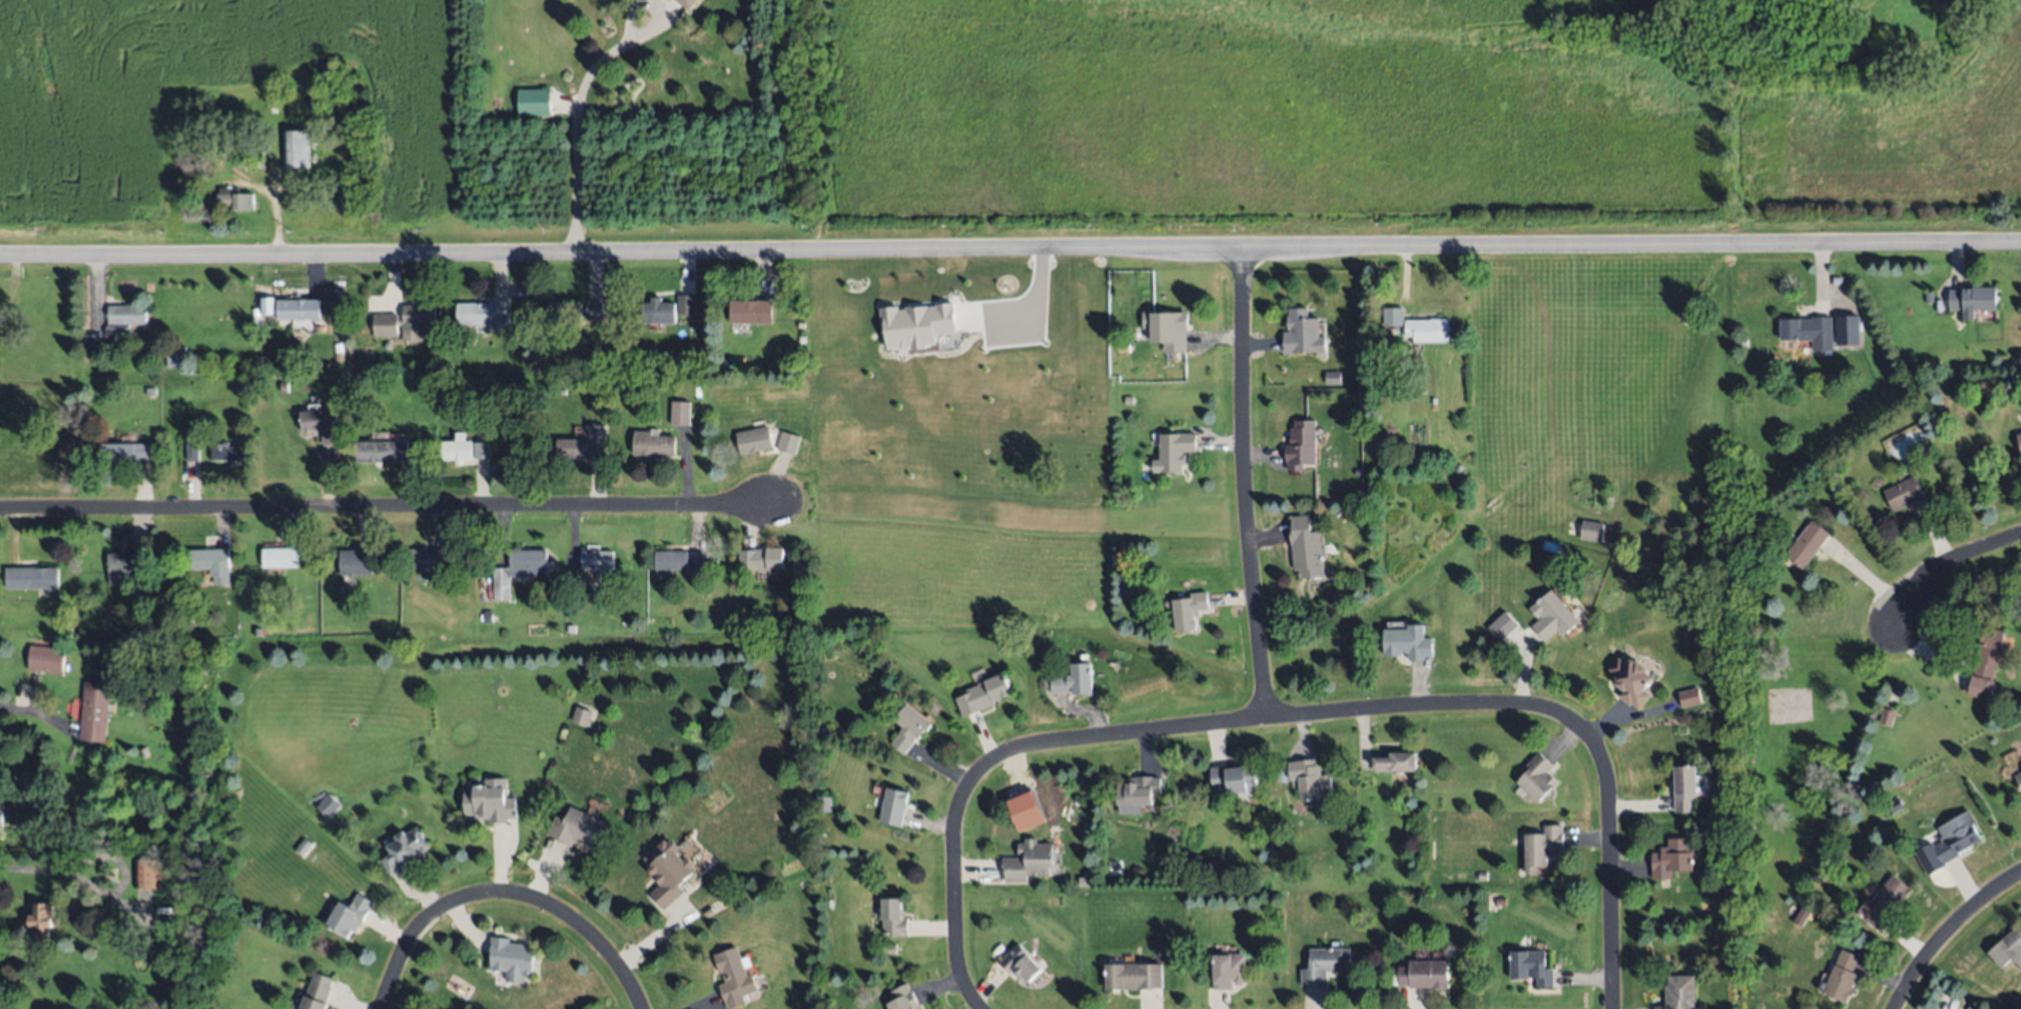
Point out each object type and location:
building: (686, 3)
building: (537, 100)
road: (577, 129)
building: (296, 147)
building: (252, 159)
building: (236, 199)
road: (1010, 249)
building: (1928, 295)
building: (1971, 297)
building: (686, 303)
building: (267, 306)
building: (297, 307)
building: (593, 309)
building: (658, 309)
road: (1034, 309)
building: (750, 311)
building: (564, 312)
building: (485, 314)
building: (1392, 315)
building: (900, 321)
building: (406, 322)
building: (114, 328)
building: (1428, 329)
building: (1807, 329)
building: (1169, 330)
building: (1846, 331)
building: (1302, 333)
building: (1123, 347)
building: (181, 349)
building: (171, 356)
building: (429, 366)
building: (446, 369)
building: (1333, 377)
building: (150, 390)
building: (1127, 399)
building: (681, 412)
building: (323, 423)
building: (2019, 438)
building: (754, 441)
building: (788, 442)
building: (653, 443)
building: (1301, 444)
building: (583, 448)
building: (457, 449)
building: (482, 449)
building: (382, 450)
building: (193, 451)
building: (231, 451)
building: (1173, 451)
building: (127, 452)
building: (1458, 468)
building: (1836, 471)
road: (1243, 482)
building: (1903, 492)
road: (388, 506)
building: (1592, 531)
building: (1806, 544)
building: (1306, 547)
building: (281, 557)
building: (426, 558)
building: (761, 558)
building: (598, 559)
building: (671, 559)
building: (355, 561)
building: (698, 561)
building: (713, 561)
building: (129, 563)
building: (213, 563)
road: (1948, 563)
building: (518, 570)
building: (32, 577)
building: (583, 589)
building: (1188, 610)
building: (489, 615)
building: (1553, 615)
building: (190, 620)
building: (150, 625)
building: (1502, 626)
building: (572, 629)
building: (259, 631)
building: (68, 632)
building: (1408, 642)
building: (47, 659)
building: (1985, 662)
building: (1074, 680)
building: (1631, 680)
building: (982, 694)
building: (1689, 698)
building: (95, 711)
road: (35, 714)
building: (582, 715)
road: (1295, 715)
building: (1886, 716)
building: (908, 727)
building: (825, 731)
building: (144, 752)
building: (1396, 761)
building: (1536, 777)
building: (1233, 778)
building: (1309, 778)
building: (2018, 778)
building: (1685, 788)
building: (1139, 789)
building: (490, 800)
building: (824, 804)
building: (329, 805)
building: (1895, 805)
building: (893, 806)
building: (1025, 811)
building: (1, 817)
building: (580, 829)
building: (1082, 831)
building: (1949, 843)
building: (1542, 844)
building: (303, 846)
building: (406, 849)
building: (1672, 858)
building: (1028, 860)
road: (29, 869)
building: (668, 871)
building: (147, 872)
road: (125, 874)
building: (1480, 875)
building: (1730, 890)
road: (504, 892)
building: (1884, 903)
building: (709, 911)
building: (349, 914)
building: (44, 918)
building: (893, 919)
road: (1948, 932)
building: (890, 948)
building: (2007, 949)
building: (511, 958)
building: (1020, 963)
building: (1324, 965)
building: (1530, 967)
building: (1228, 969)
building: (1423, 974)
building: (1133, 975)
building: (1842, 975)
building: (734, 978)
building: (317, 992)
building: (1680, 993)
building: (903, 999)
building: (1970, 1007)

